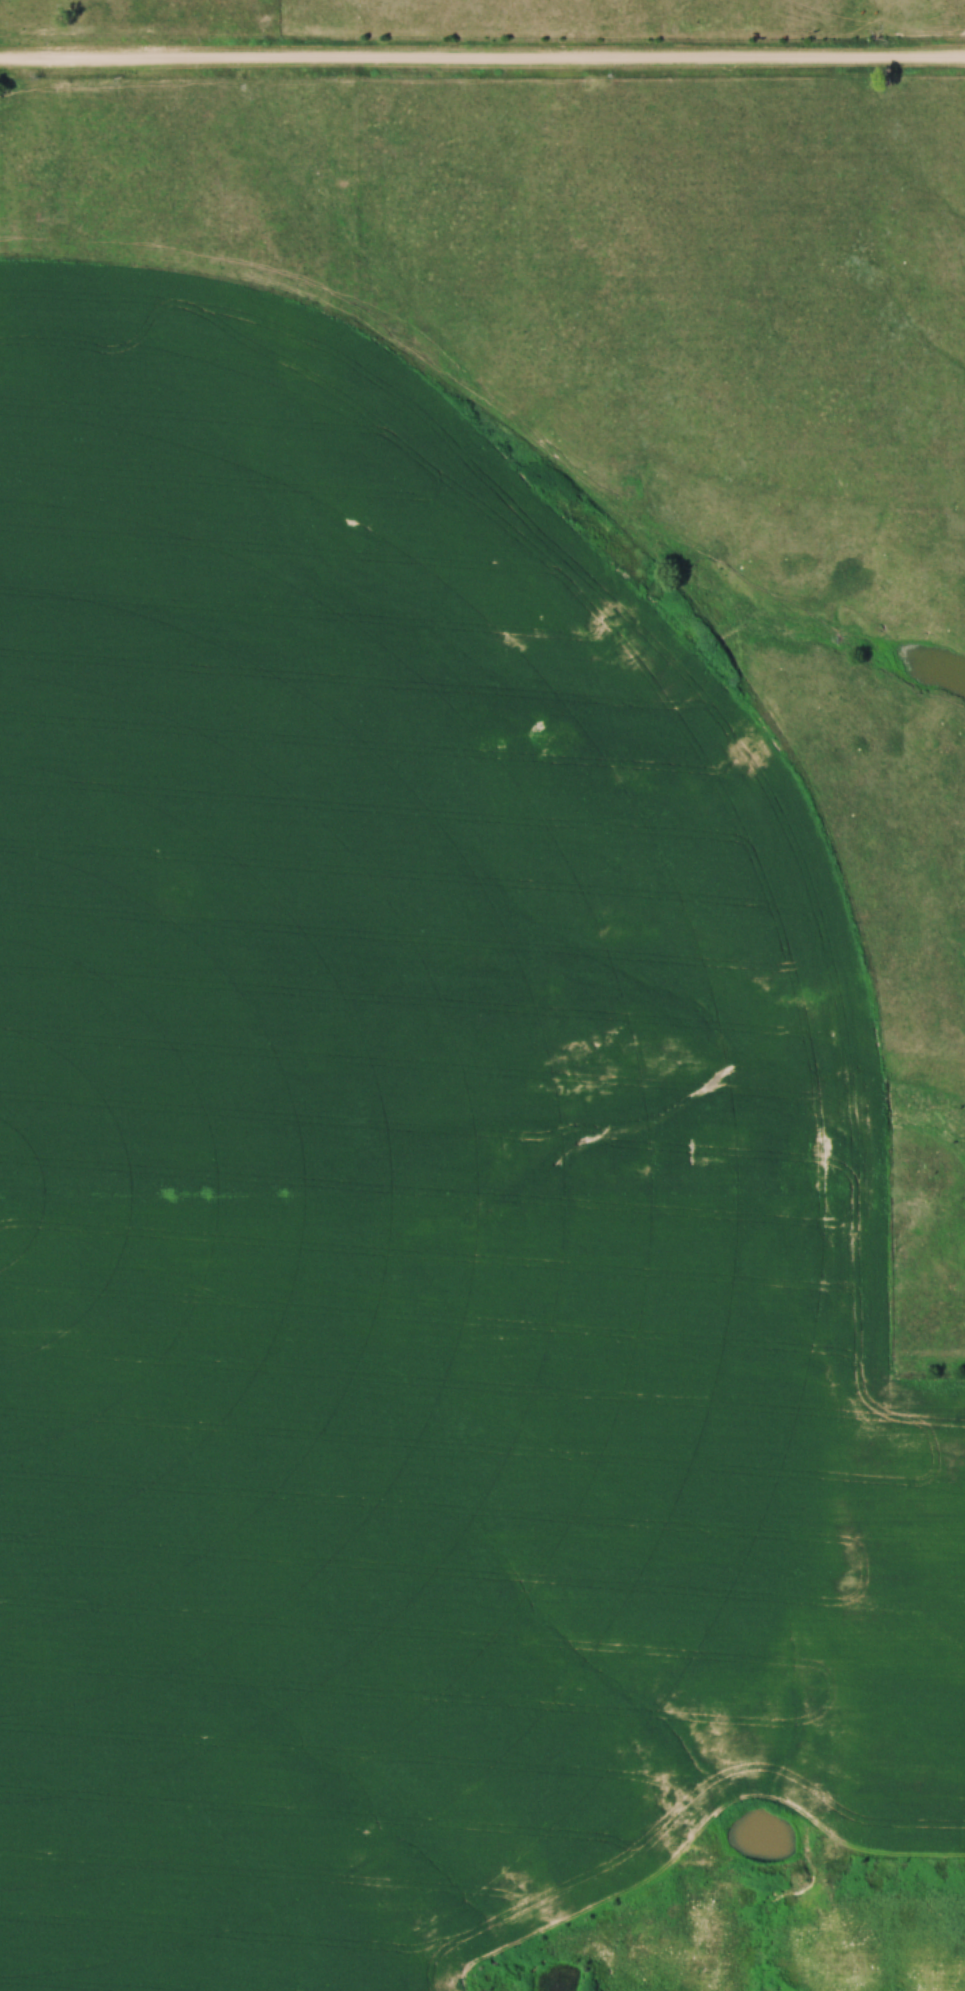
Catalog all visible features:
road: (482, 60)

